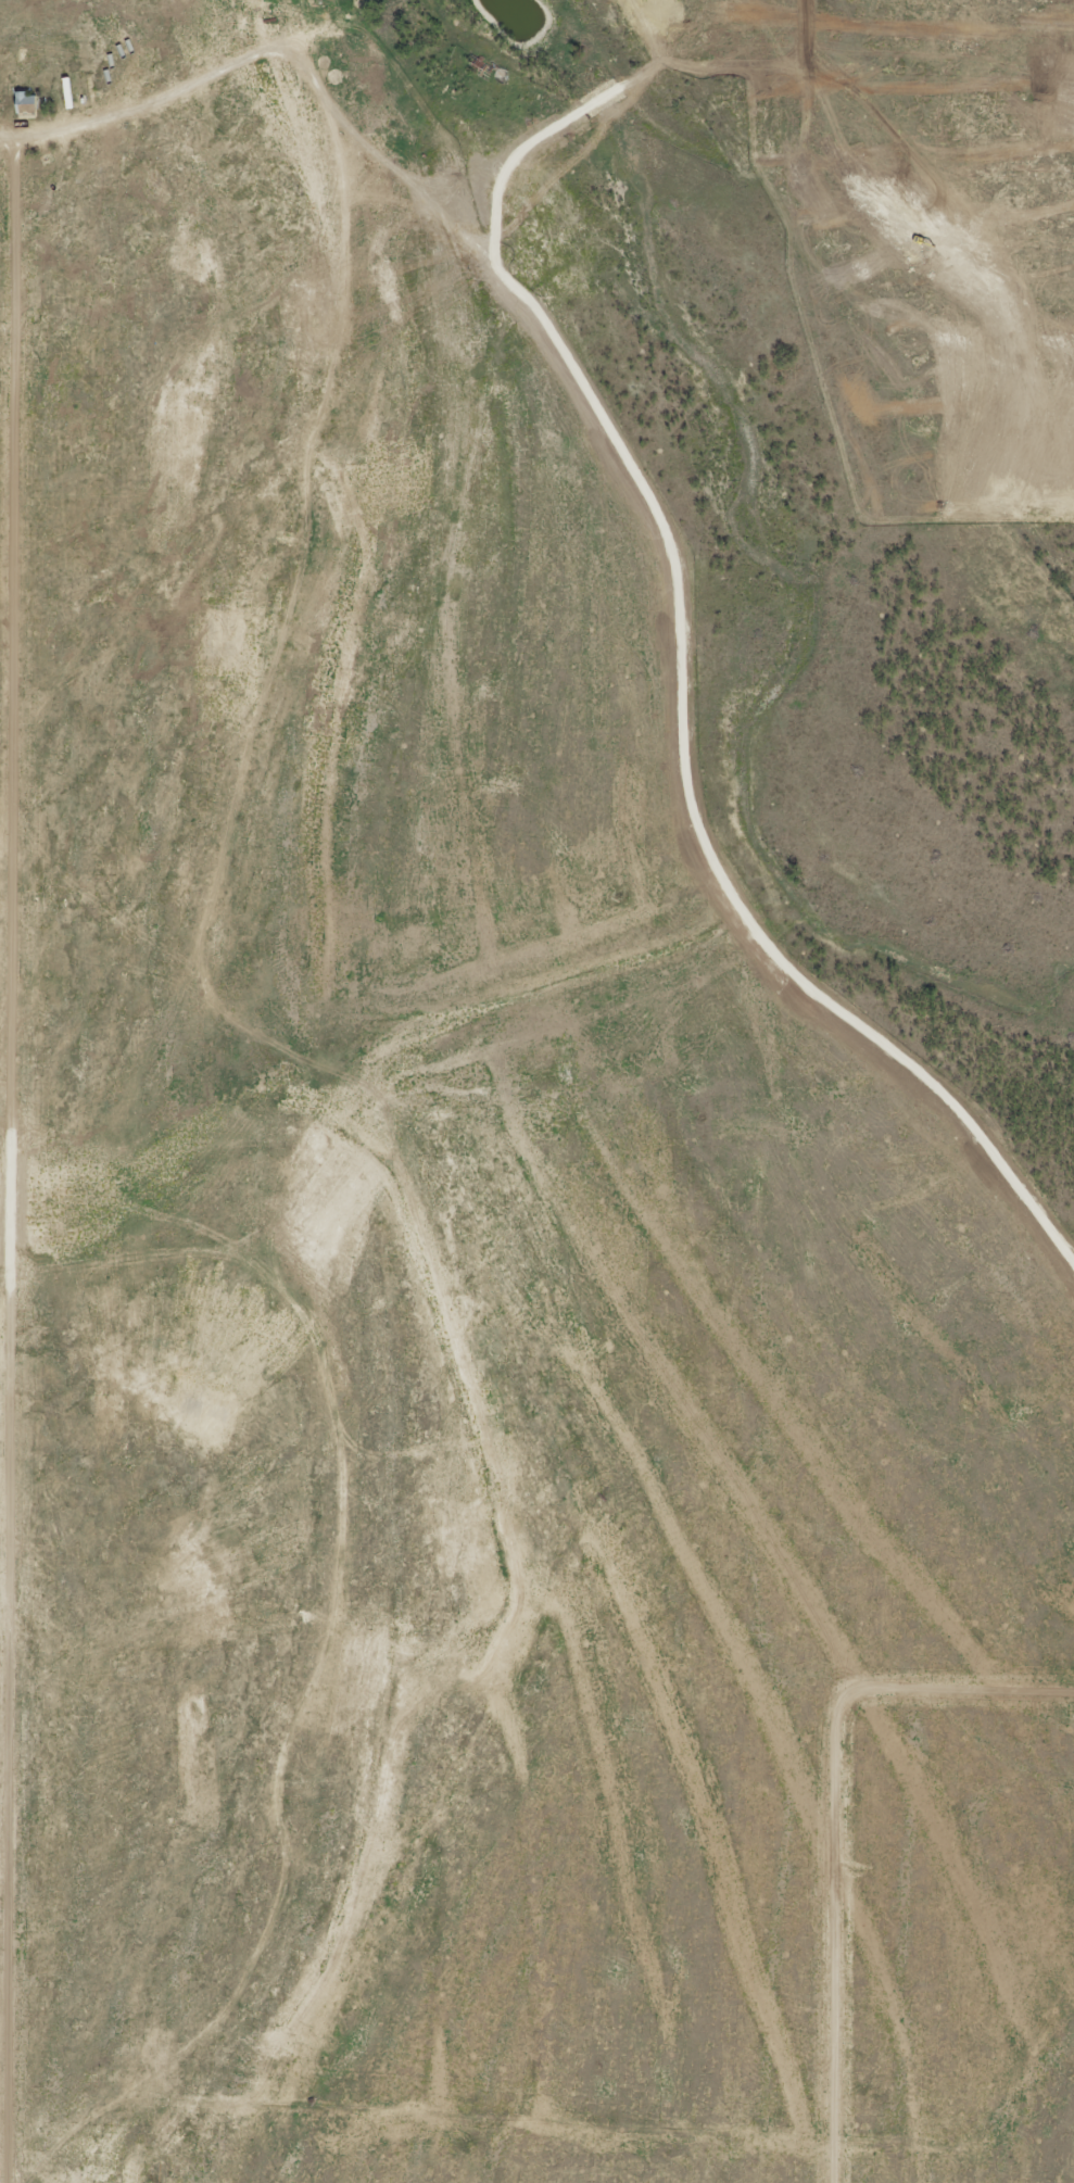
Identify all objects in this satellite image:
building: (22, 104)
road: (100, 119)

